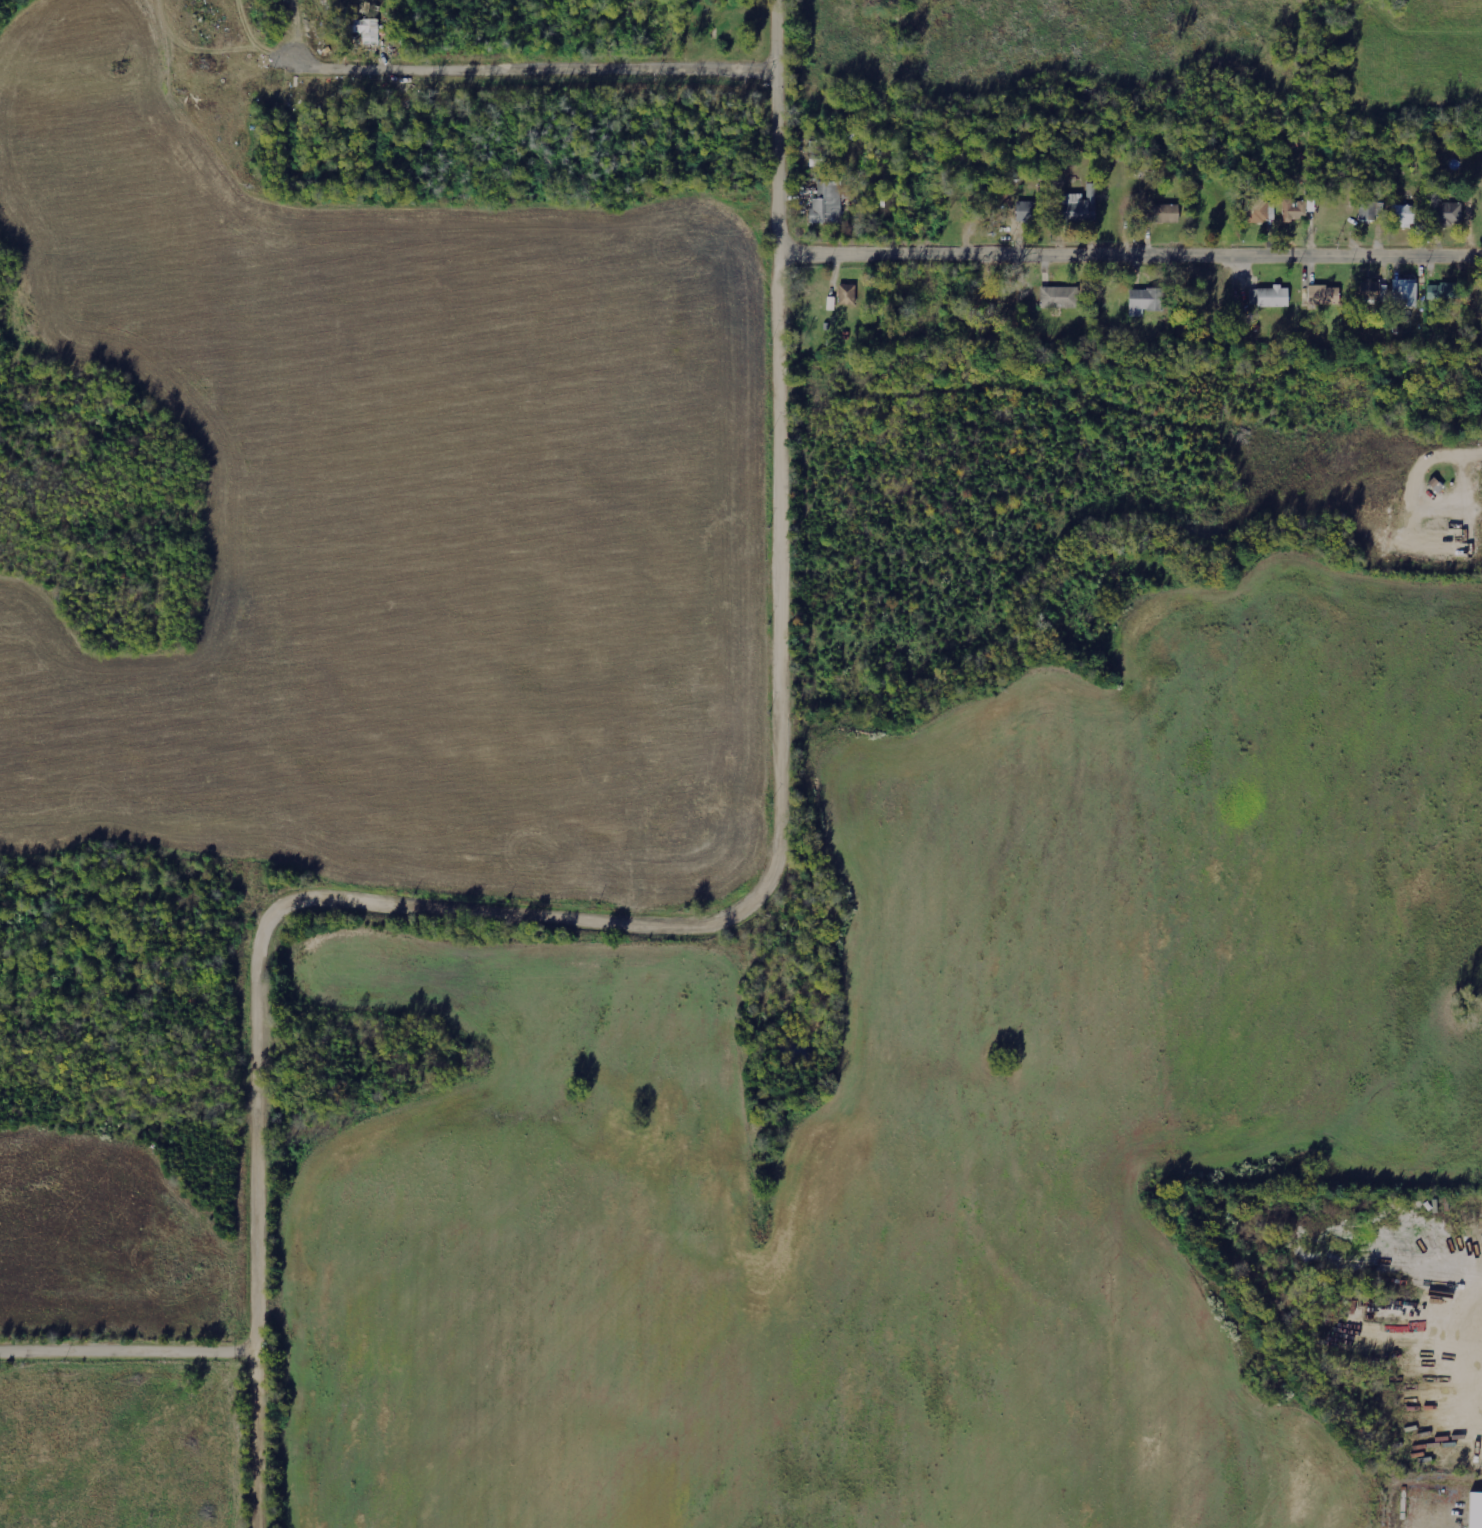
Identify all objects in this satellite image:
building: (367, 30)
road: (531, 71)
building: (828, 203)
building: (1256, 210)
building: (1294, 210)
building: (1372, 210)
building: (1077, 211)
building: (1272, 211)
building: (1033, 212)
building: (1447, 213)
building: (1164, 214)
building: (1405, 215)
road: (1129, 255)
building: (1370, 290)
building: (1443, 291)
building: (1405, 293)
building: (847, 295)
building: (1323, 295)
building: (1059, 297)
building: (1269, 297)
building: (1145, 301)
road: (1456, 451)
road: (778, 684)
road: (254, 1204)
road: (126, 1353)
building: (1475, 1510)

